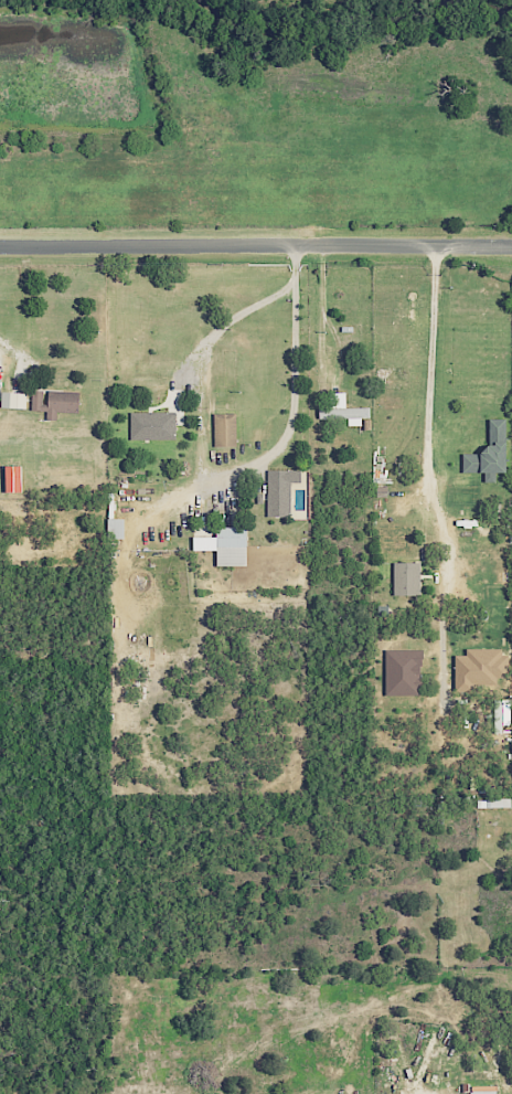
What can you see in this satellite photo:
road: (256, 247)
road: (228, 321)
road: (10, 352)
road: (294, 387)
building: (17, 400)
building: (346, 410)
building: (156, 425)
road: (429, 446)
building: (493, 452)
building: (17, 478)
building: (282, 490)
building: (118, 524)
building: (228, 544)
building: (409, 577)
building: (483, 668)
building: (406, 671)
building: (487, 1091)

